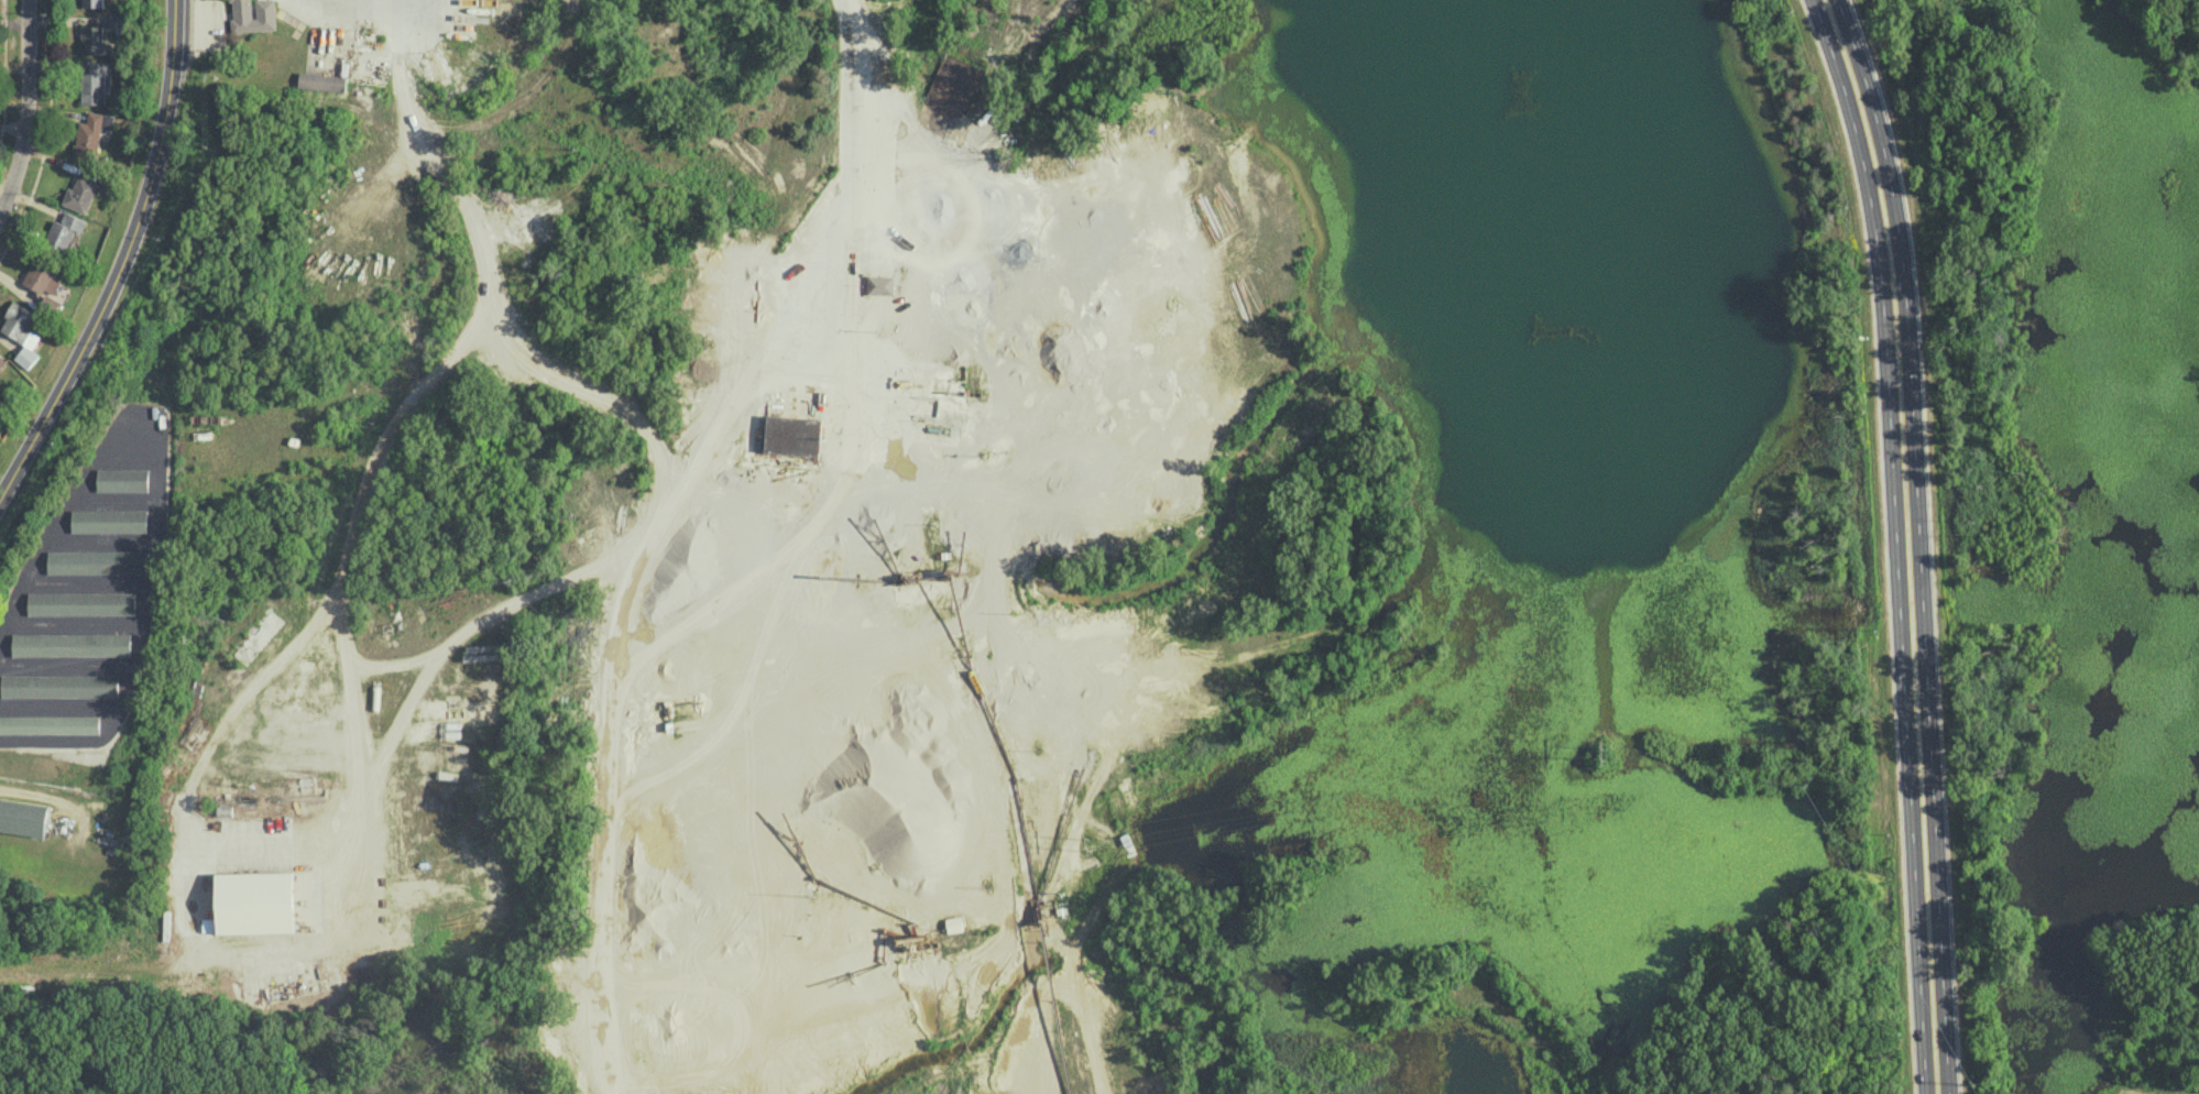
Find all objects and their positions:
building: (91, 2)
building: (241, 8)
building: (94, 40)
road: (365, 59)
building: (321, 80)
building: (96, 83)
road: (25, 109)
building: (91, 132)
building: (79, 194)
road: (849, 196)
building: (64, 231)
road: (124, 265)
building: (43, 280)
building: (880, 284)
building: (19, 324)
building: (2, 360)
building: (2, 406)
building: (792, 438)
building: (122, 479)
road: (458, 480)
building: (109, 521)
road: (1908, 543)
building: (98, 561)
building: (83, 602)
building: (73, 644)
building: (62, 685)
building: (51, 723)
building: (23, 817)
road: (359, 829)
road: (179, 832)
road: (469, 886)
building: (254, 901)

